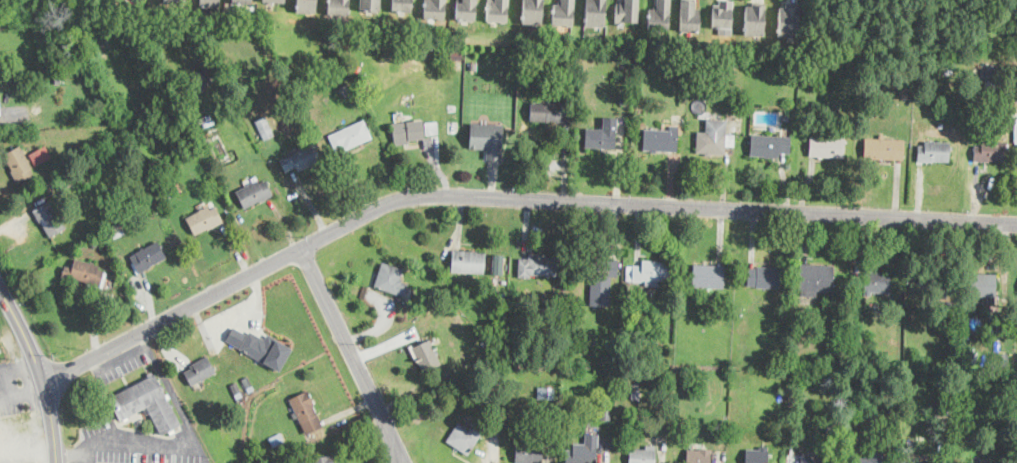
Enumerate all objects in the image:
building: (145, 0)
building: (246, 1)
building: (278, 1)
building: (177, 2)
building: (213, 3)
building: (372, 5)
building: (404, 5)
building: (309, 6)
building: (341, 7)
building: (437, 9)
building: (468, 10)
building: (499, 10)
building: (630, 11)
building: (535, 12)
building: (567, 12)
building: (599, 13)
building: (727, 14)
building: (663, 15)
building: (693, 16)
building: (760, 20)
building: (793, 21)
building: (29, 25)
building: (457, 52)
building: (472, 64)
building: (946, 71)
building: (791, 74)
building: (200, 76)
building: (989, 76)
building: (58, 79)
building: (907, 93)
building: (697, 95)
building: (624, 99)
building: (0, 111)
building: (546, 111)
building: (786, 117)
building: (265, 127)
building: (408, 131)
building: (1015, 134)
building: (351, 135)
building: (600, 138)
building: (714, 138)
building: (489, 139)
building: (661, 140)
building: (428, 145)
building: (769, 145)
building: (827, 146)
building: (884, 148)
building: (990, 151)
building: (933, 152)
building: (40, 155)
building: (302, 158)
building: (18, 163)
building: (69, 179)
building: (177, 186)
building: (130, 190)
building: (254, 193)
road: (509, 196)
building: (50, 218)
building: (204, 220)
building: (117, 230)
building: (94, 244)
building: (147, 257)
building: (720, 257)
building: (468, 261)
building: (538, 266)
building: (86, 272)
building: (649, 272)
building: (709, 276)
building: (598, 277)
building: (764, 277)
building: (391, 279)
building: (816, 279)
building: (856, 279)
building: (877, 283)
building: (627, 284)
building: (933, 285)
building: (983, 287)
building: (437, 291)
building: (498, 292)
road: (6, 295)
building: (630, 295)
building: (106, 298)
building: (946, 306)
building: (259, 346)
road: (350, 349)
building: (426, 356)
building: (612, 356)
road: (18, 362)
building: (998, 362)
parking lot: (120, 363)
building: (784, 365)
building: (801, 365)
building: (200, 371)
road: (10, 379)
road: (47, 380)
building: (248, 382)
building: (236, 388)
road: (22, 389)
building: (546, 393)
building: (448, 395)
building: (781, 396)
building: (147, 403)
building: (940, 405)
building: (304, 406)
building: (571, 406)
building: (605, 414)
building: (633, 421)
building: (908, 421)
building: (466, 436)
building: (723, 437)
building: (833, 438)
building: (277, 439)
building: (985, 439)
road: (184, 442)
parking lot: (134, 444)
building: (910, 447)
building: (1015, 447)
building: (528, 451)
building: (584, 451)
building: (643, 455)
road: (404, 456)
building: (698, 456)
building: (757, 456)
road: (398, 457)
road: (86, 459)
building: (323, 459)
building: (805, 459)
building: (871, 459)
building: (932, 461)

